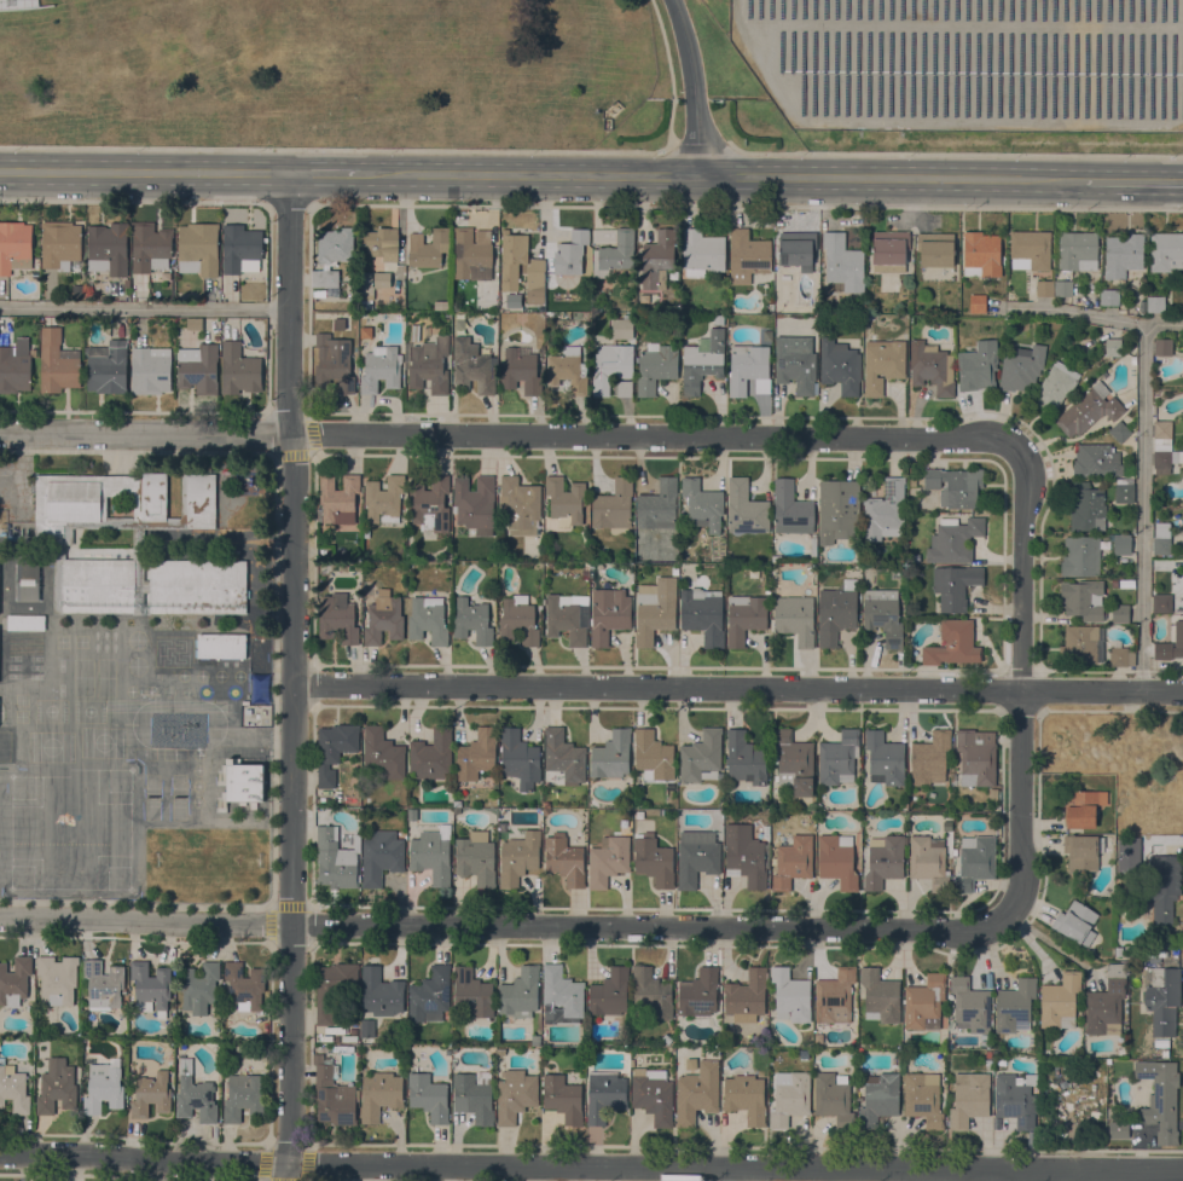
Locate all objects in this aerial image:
road: (669, 71)
road: (695, 86)
road: (701, 146)
road: (336, 149)
road: (956, 154)
road: (145, 173)
road: (324, 174)
road: (529, 175)
road: (891, 176)
road: (1132, 178)
road: (134, 201)
building: (383, 243)
building: (60, 244)
building: (335, 245)
building: (15, 247)
building: (150, 247)
building: (108, 248)
building: (428, 248)
building: (198, 249)
building: (240, 249)
building: (796, 249)
building: (935, 249)
building: (1030, 250)
building: (1078, 250)
building: (619, 251)
building: (889, 251)
building: (1166, 251)
building: (702, 253)
building: (570, 254)
building: (1123, 254)
building: (474, 255)
building: (981, 255)
building: (747, 256)
building: (512, 259)
building: (657, 260)
building: (843, 262)
building: (365, 278)
building: (325, 279)
building: (382, 279)
building: (535, 280)
building: (1044, 288)
building: (1063, 288)
building: (364, 294)
building: (1109, 297)
building: (514, 300)
building: (978, 303)
building: (1155, 303)
building: (440, 305)
building: (456, 305)
building: (366, 306)
road: (144, 307)
building: (446, 315)
building: (719, 319)
building: (193, 324)
road: (1161, 325)
building: (1010, 326)
building: (622, 329)
building: (366, 332)
building: (1113, 347)
building: (1162, 347)
building: (703, 360)
building: (57, 363)
building: (795, 363)
building: (334, 364)
building: (882, 365)
building: (15, 366)
building: (429, 366)
building: (474, 366)
building: (840, 366)
building: (932, 366)
building: (978, 366)
building: (1021, 366)
building: (108, 367)
building: (655, 367)
building: (198, 369)
building: (381, 369)
building: (150, 370)
building: (239, 370)
building: (613, 370)
building: (748, 370)
building: (521, 371)
building: (568, 371)
building: (1055, 387)
building: (1089, 411)
building: (1120, 432)
building: (1162, 433)
road: (508, 434)
road: (1143, 442)
building: (1166, 457)
building: (1096, 461)
road: (17, 463)
parking lot: (15, 482)
building: (955, 486)
building: (1124, 491)
building: (338, 499)
building: (384, 499)
building: (566, 500)
building: (430, 504)
building: (475, 504)
building: (520, 505)
building: (613, 505)
building: (702, 505)
building: (657, 506)
building: (746, 508)
building: (1086, 508)
building: (791, 509)
building: (839, 510)
building: (885, 511)
building: (1182, 538)
building: (1161, 539)
building: (953, 540)
building: (1121, 544)
building: (135, 546)
building: (1080, 556)
building: (914, 557)
building: (674, 571)
building: (28, 581)
building: (1114, 584)
building: (955, 586)
building: (1083, 601)
building: (1161, 603)
building: (656, 612)
building: (1120, 613)
building: (609, 614)
building: (835, 614)
building: (703, 615)
building: (883, 615)
building: (338, 618)
building: (744, 618)
building: (383, 619)
building: (564, 619)
building: (795, 619)
building: (428, 620)
building: (518, 620)
building: (472, 621)
building: (25, 623)
building: (953, 644)
building: (1171, 644)
building: (221, 646)
building: (1081, 646)
building: (169, 653)
building: (23, 654)
building: (1121, 658)
road: (292, 677)
road: (273, 679)
road: (1021, 679)
building: (230, 681)
road: (737, 689)
building: (5, 747)
building: (334, 749)
building: (1162, 753)
building: (611, 754)
building: (382, 756)
building: (433, 756)
building: (476, 756)
building: (654, 757)
building: (702, 757)
building: (976, 757)
building: (520, 758)
building: (839, 758)
building: (930, 758)
building: (562, 759)
building: (746, 759)
building: (885, 760)
building: (793, 763)
building: (1130, 763)
building: (244, 781)
building: (1083, 807)
building: (412, 815)
building: (1083, 852)
building: (747, 855)
building: (381, 857)
building: (431, 857)
building: (476, 858)
building: (518, 858)
building: (566, 859)
building: (335, 861)
building: (608, 861)
building: (654, 861)
building: (793, 861)
building: (837, 861)
building: (885, 861)
building: (697, 862)
building: (929, 862)
building: (975, 862)
building: (1143, 863)
building: (1161, 886)
building: (1075, 922)
road: (509, 925)
road: (1057, 948)
building: (1119, 951)
building: (57, 979)
building: (15, 980)
building: (103, 985)
building: (150, 986)
building: (244, 986)
building: (198, 988)
building: (334, 988)
building: (381, 992)
building: (472, 992)
building: (521, 992)
building: (651, 992)
building: (610, 994)
building: (698, 994)
building: (430, 995)
building: (747, 995)
building: (561, 996)
building: (791, 996)
building: (835, 996)
building: (880, 996)
building: (1164, 1000)
building: (1060, 1002)
building: (924, 1003)
building: (1107, 1003)
building: (972, 1005)
building: (1015, 1006)
building: (366, 1029)
building: (667, 1038)
building: (535, 1040)
building: (500, 1052)
building: (988, 1054)
building: (56, 1087)
building: (103, 1088)
building: (13, 1089)
building: (697, 1093)
building: (151, 1095)
building: (195, 1095)
building: (379, 1095)
building: (515, 1095)
building: (604, 1095)
building: (653, 1095)
building: (334, 1096)
building: (243, 1098)
building: (429, 1098)
building: (746, 1098)
building: (789, 1098)
building: (474, 1099)
building: (563, 1099)
building: (833, 1099)
building: (880, 1099)
building: (923, 1099)
building: (969, 1099)
building: (1160, 1099)
building: (1016, 1101)
building: (1119, 1129)
road: (591, 1165)
road: (727, 1174)

